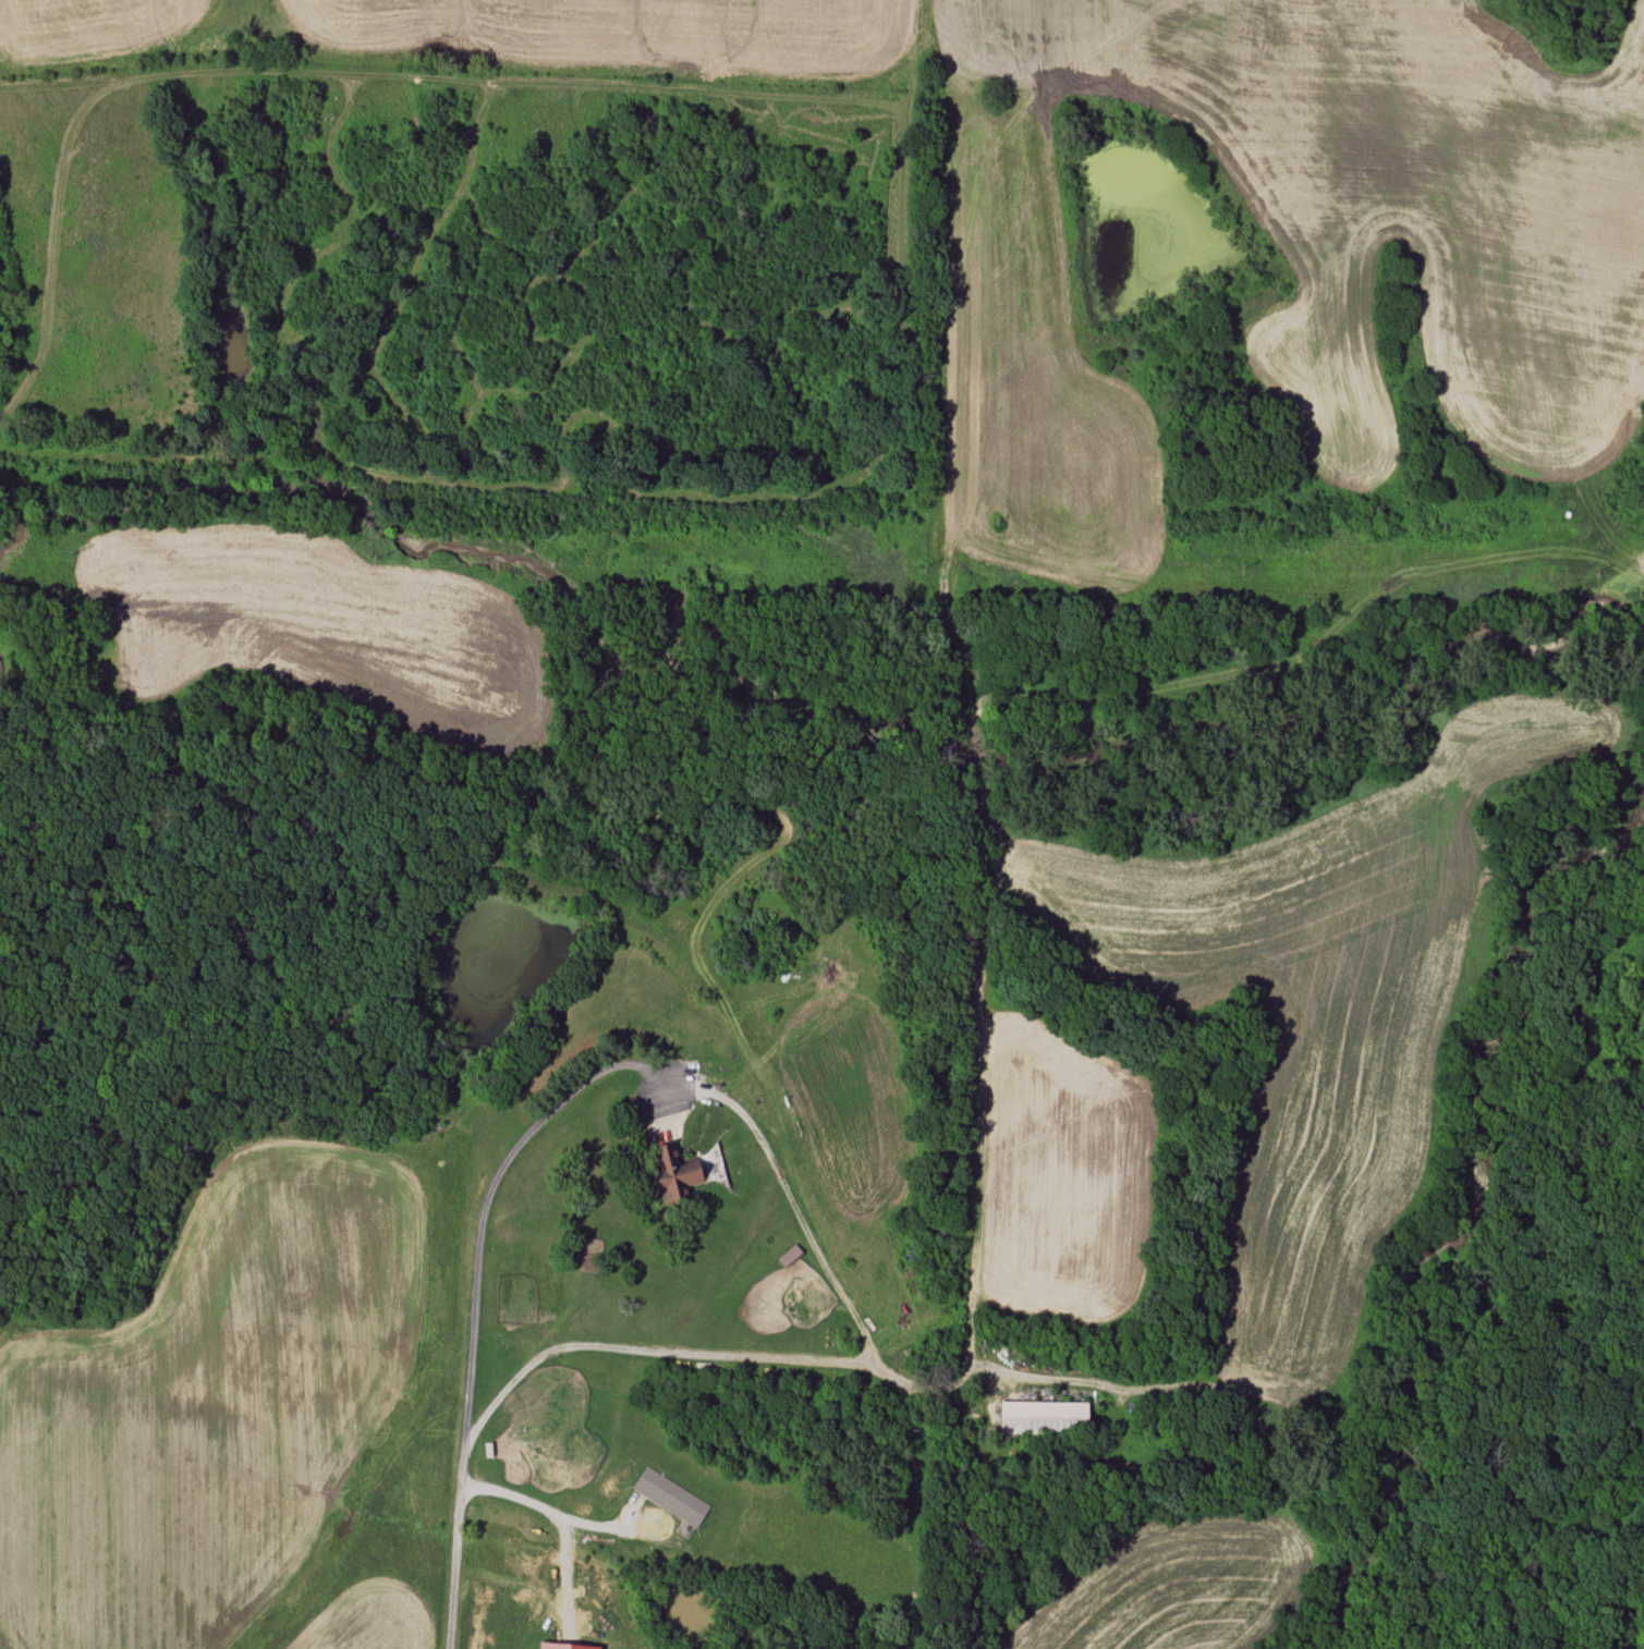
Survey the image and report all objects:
road: (614, 1067)
building: (677, 1174)
road: (978, 1220)
road: (1025, 1383)
building: (1046, 1418)
building: (668, 1499)
road: (564, 1517)

